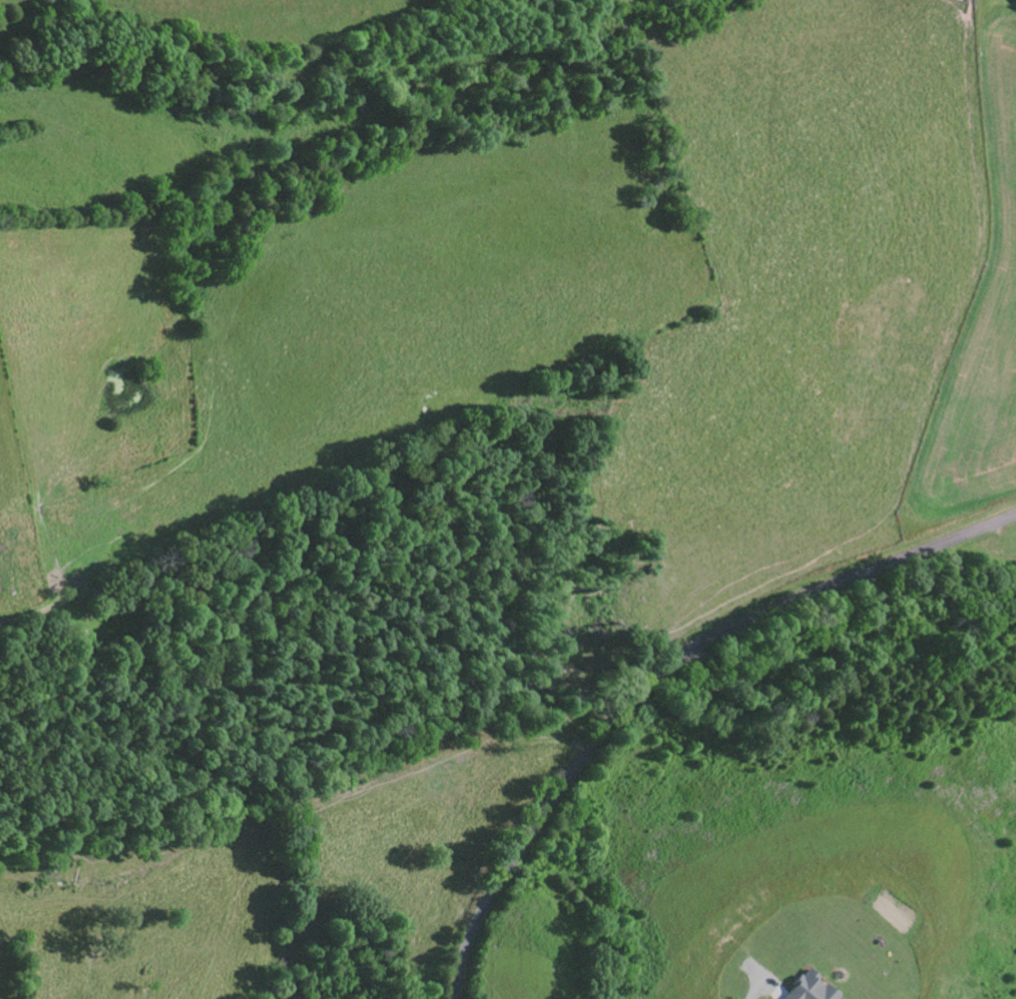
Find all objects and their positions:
road: (15, 620)
road: (657, 671)
building: (809, 989)

